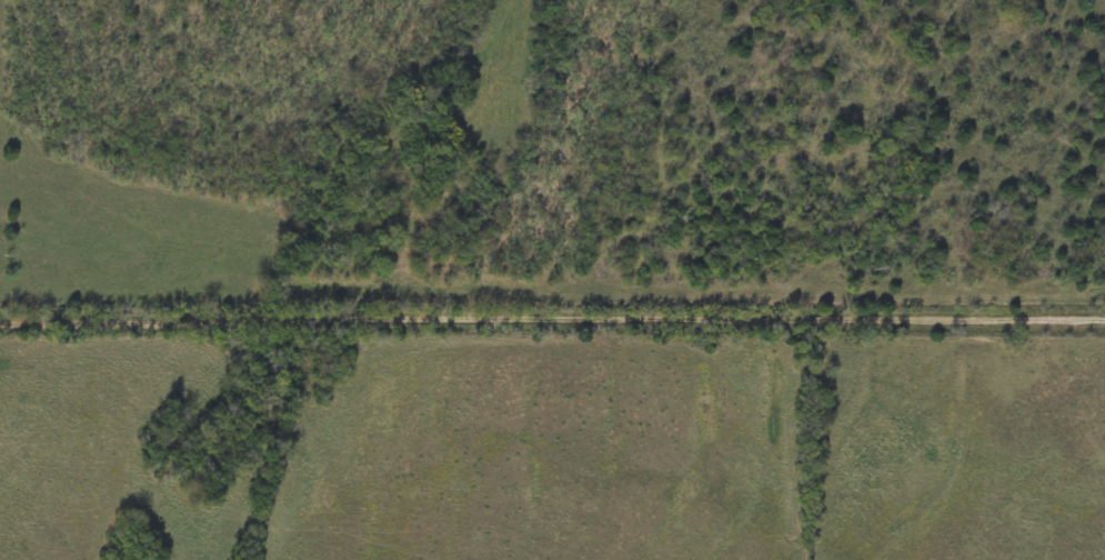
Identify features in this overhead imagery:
road: (552, 320)

